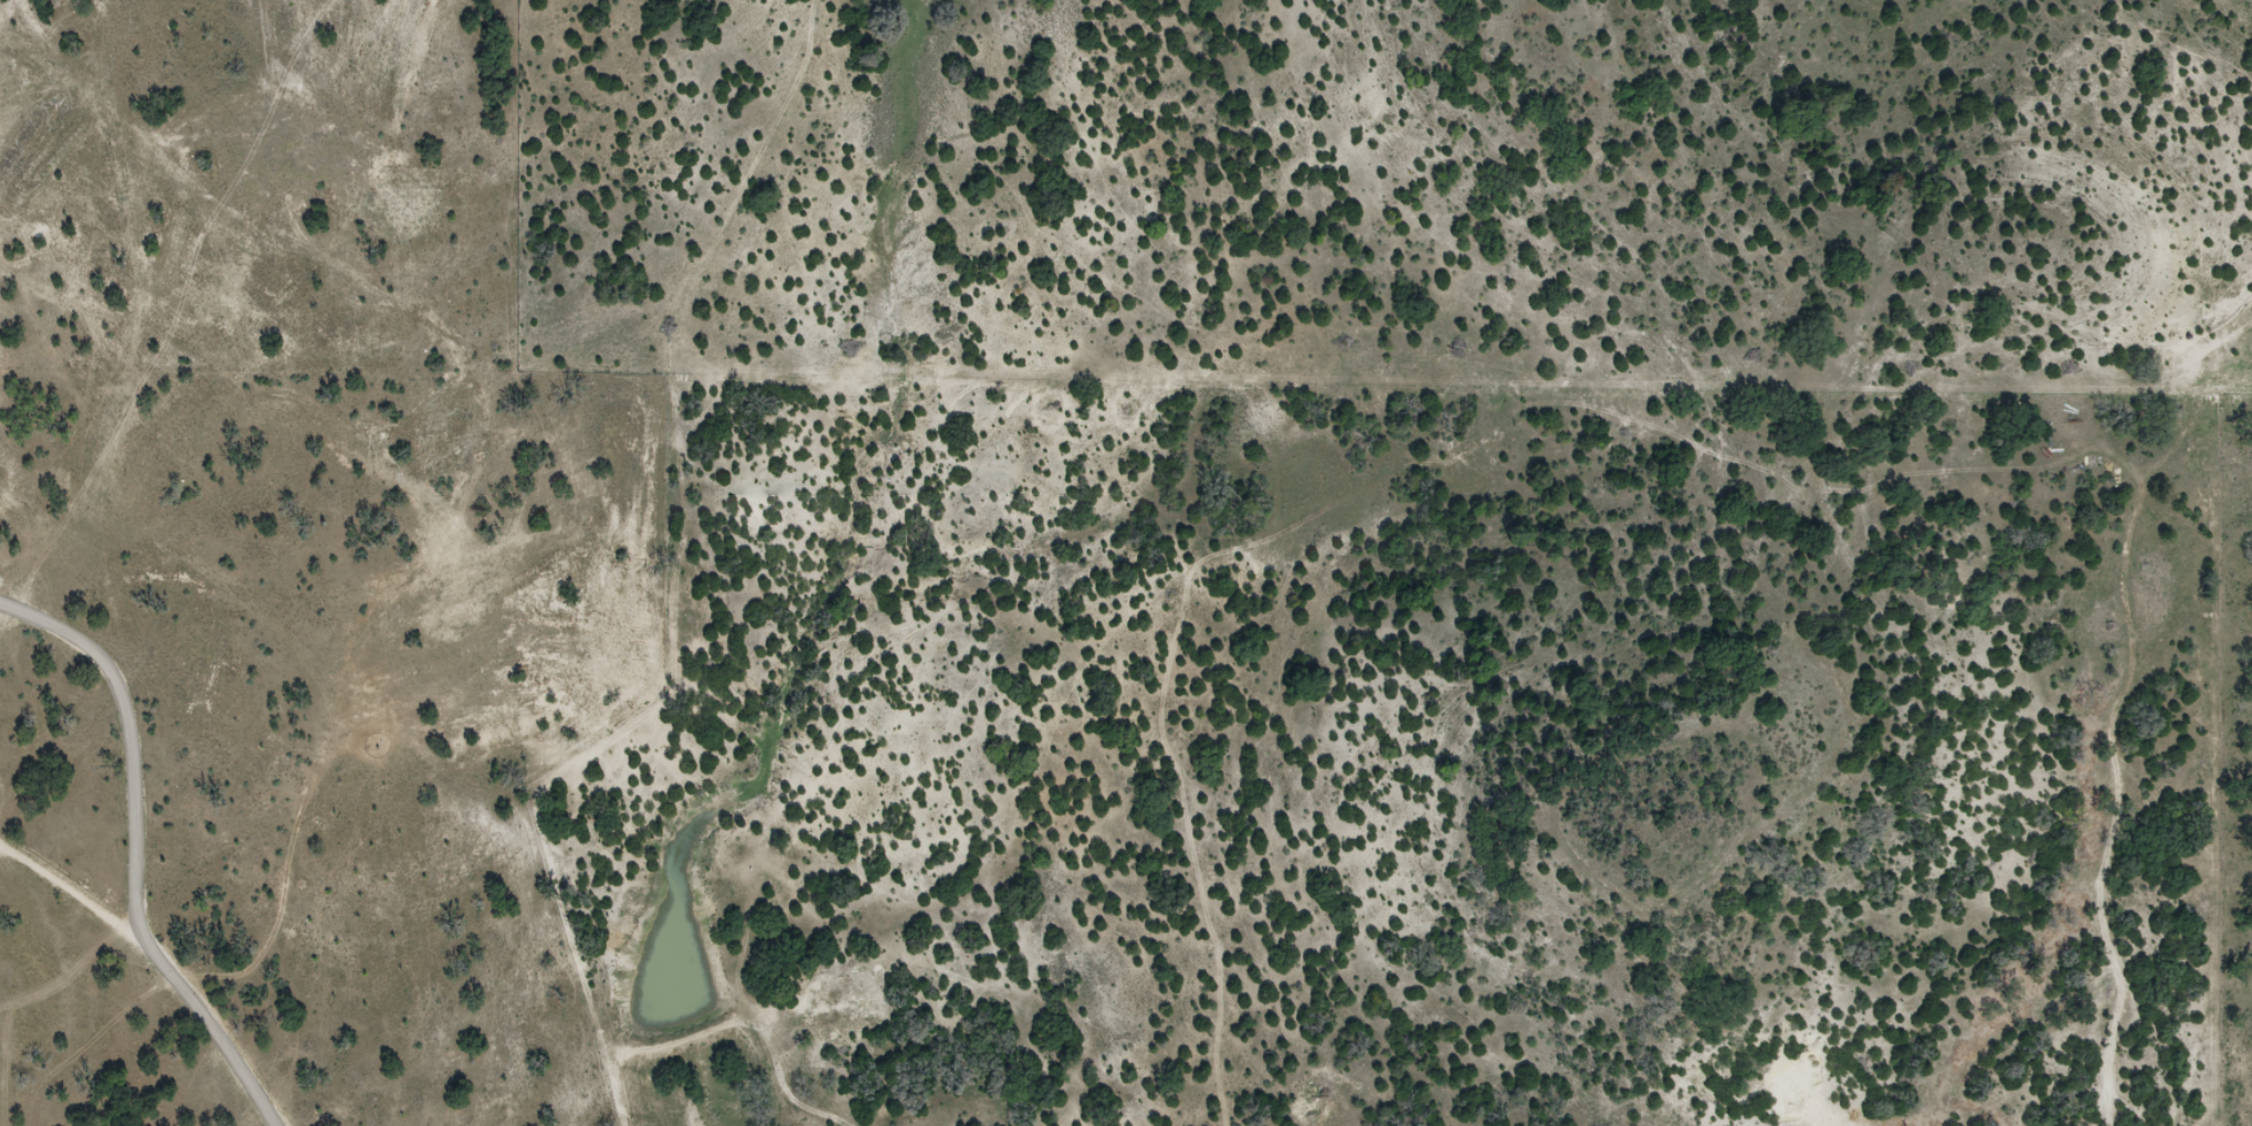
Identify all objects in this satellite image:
road: (145, 989)

